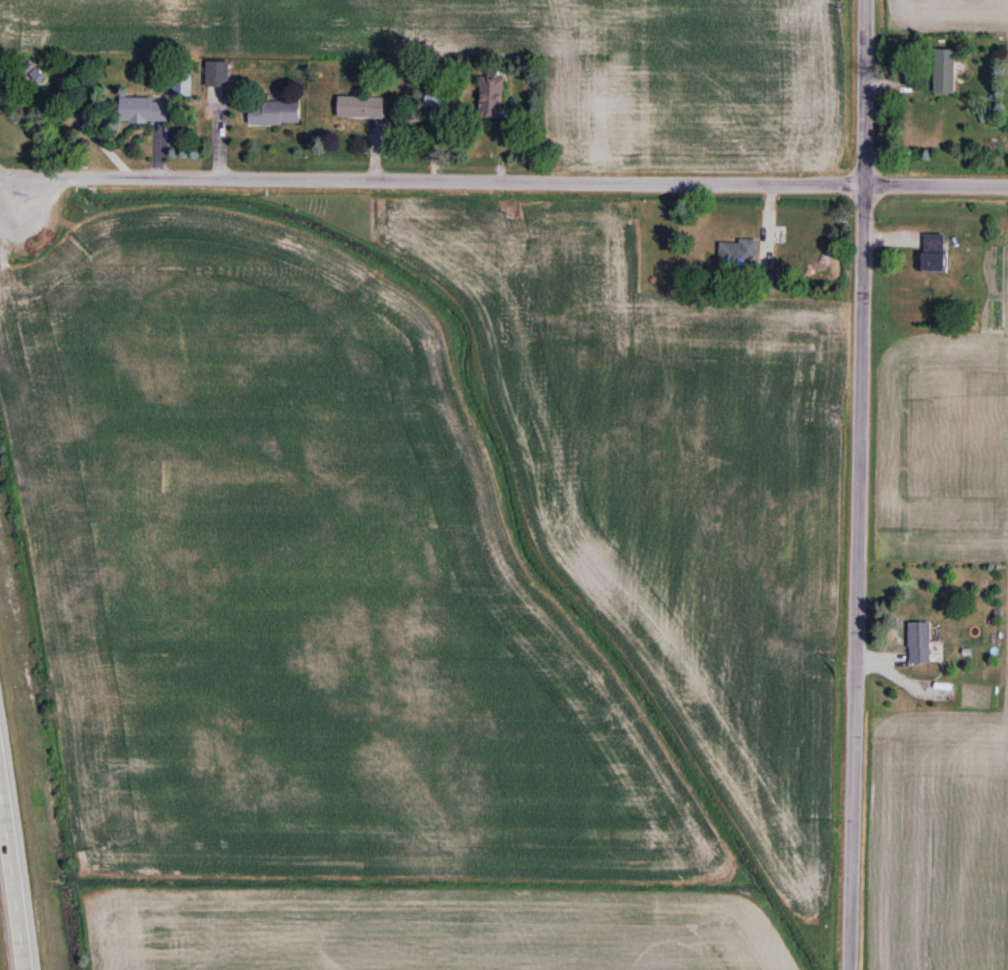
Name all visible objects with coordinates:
building: (946, 72)
building: (34, 73)
building: (184, 85)
road: (863, 90)
building: (438, 98)
building: (492, 99)
building: (361, 108)
building: (144, 111)
building: (275, 113)
road: (512, 179)
road: (13, 189)
building: (935, 253)
building: (747, 261)
road: (855, 575)
building: (921, 643)
road: (14, 877)

